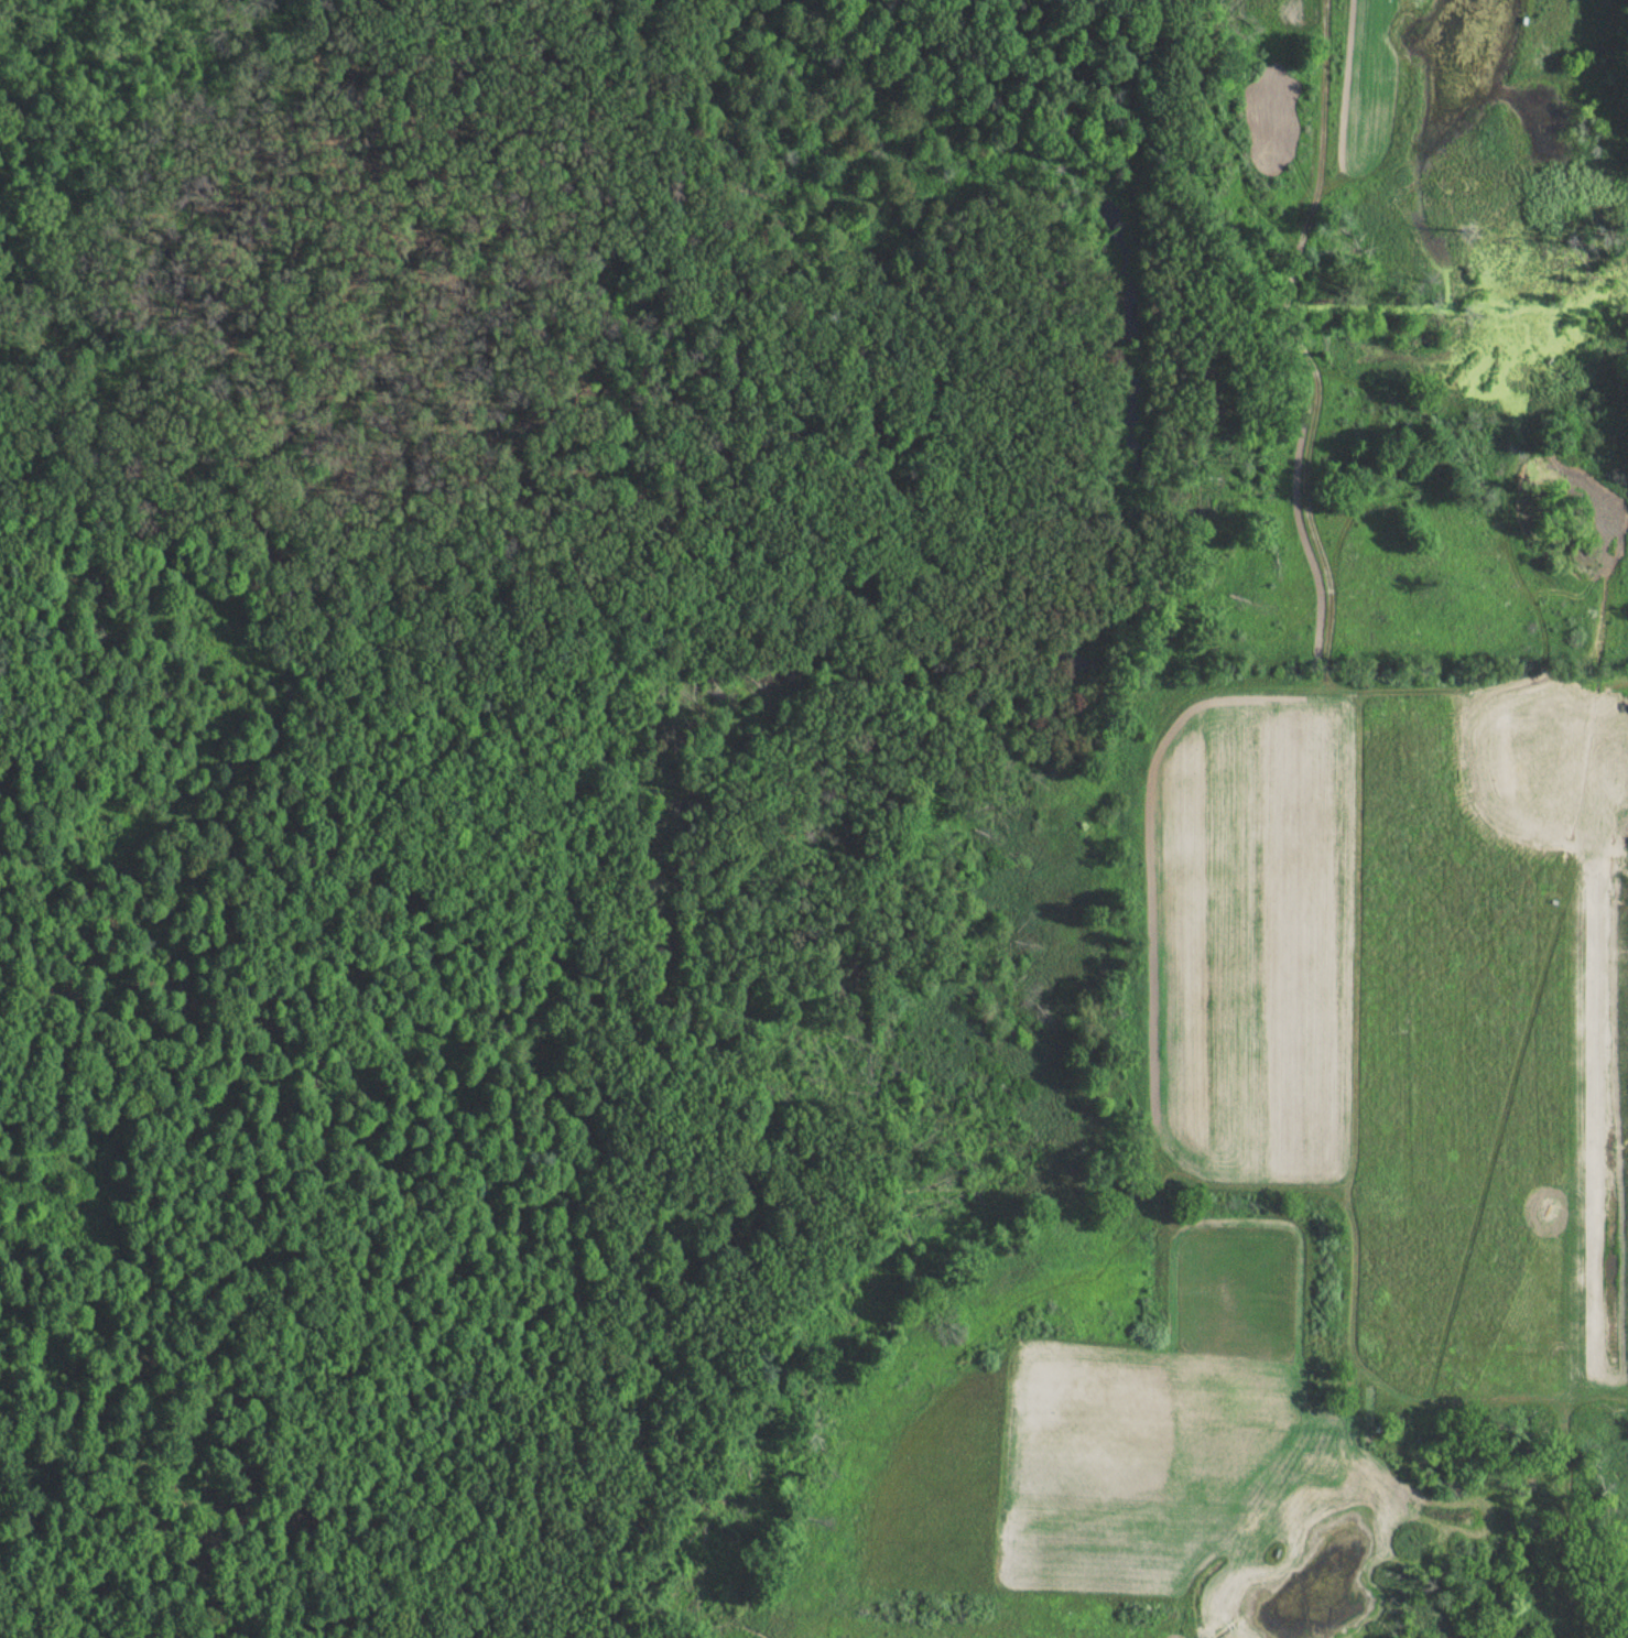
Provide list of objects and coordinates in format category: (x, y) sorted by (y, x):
building: (1624, 1482)
road: (1607, 1619)

